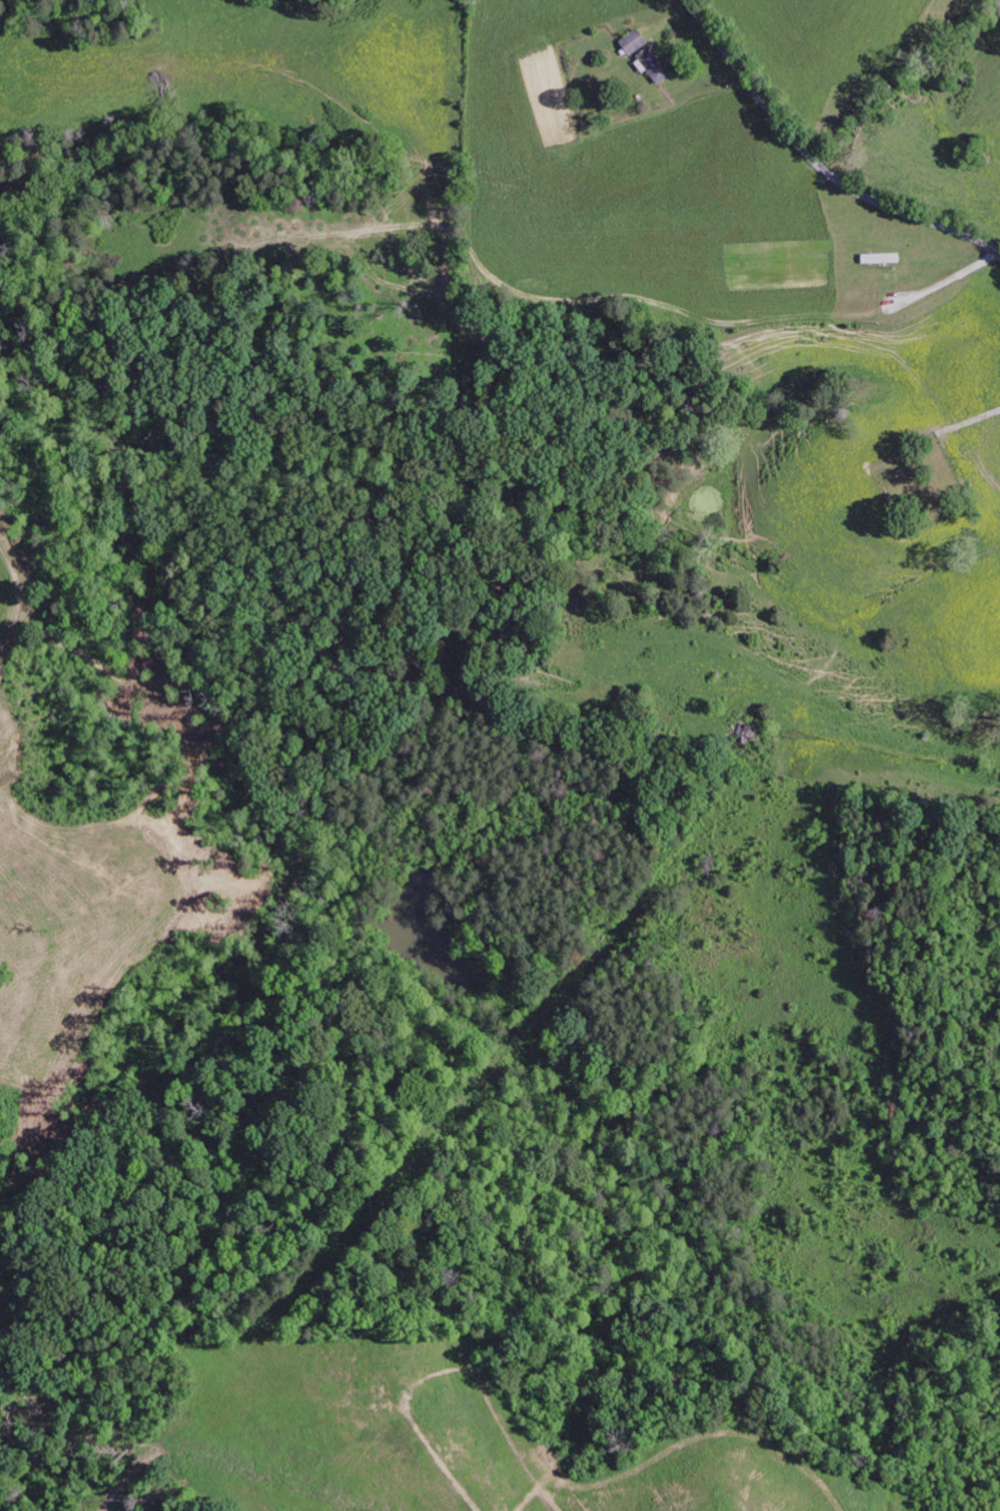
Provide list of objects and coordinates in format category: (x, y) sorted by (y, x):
building: (631, 41)
building: (648, 66)
road: (815, 161)

